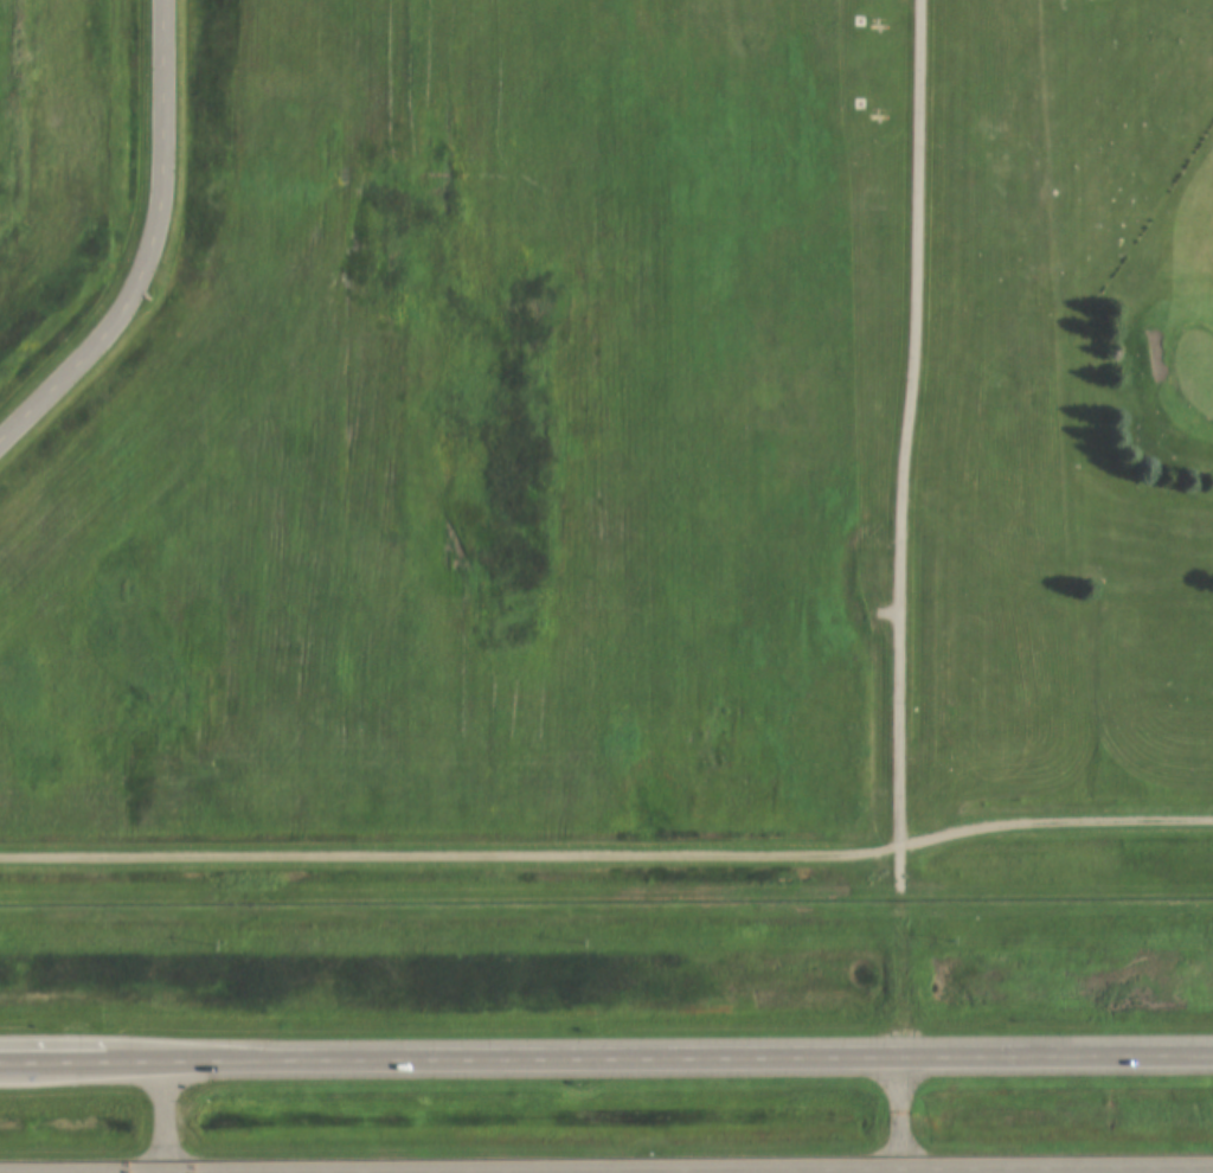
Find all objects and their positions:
airport: (72, 123)
road: (153, 246)
park: (1121, 263)
road: (914, 422)
road: (605, 1050)
road: (606, 1165)

